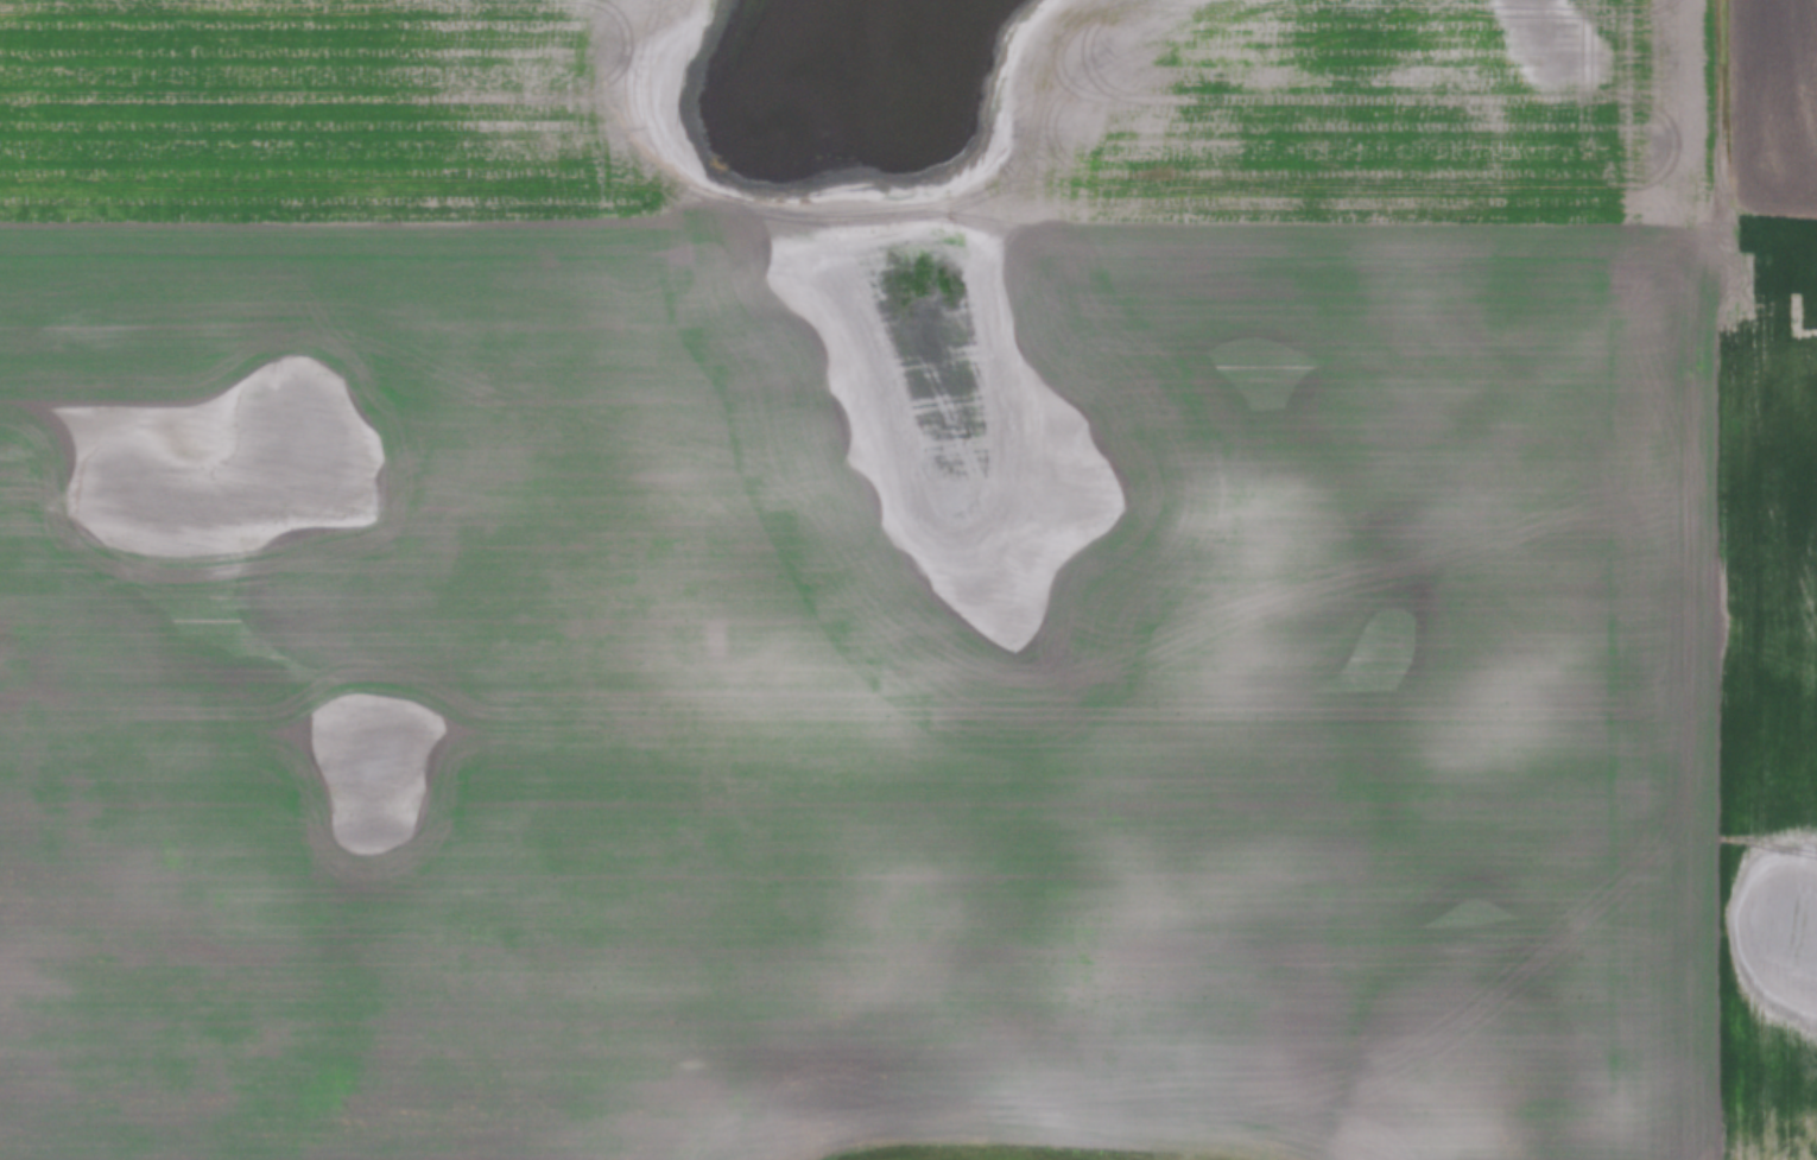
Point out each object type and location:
road: (1723, 144)

